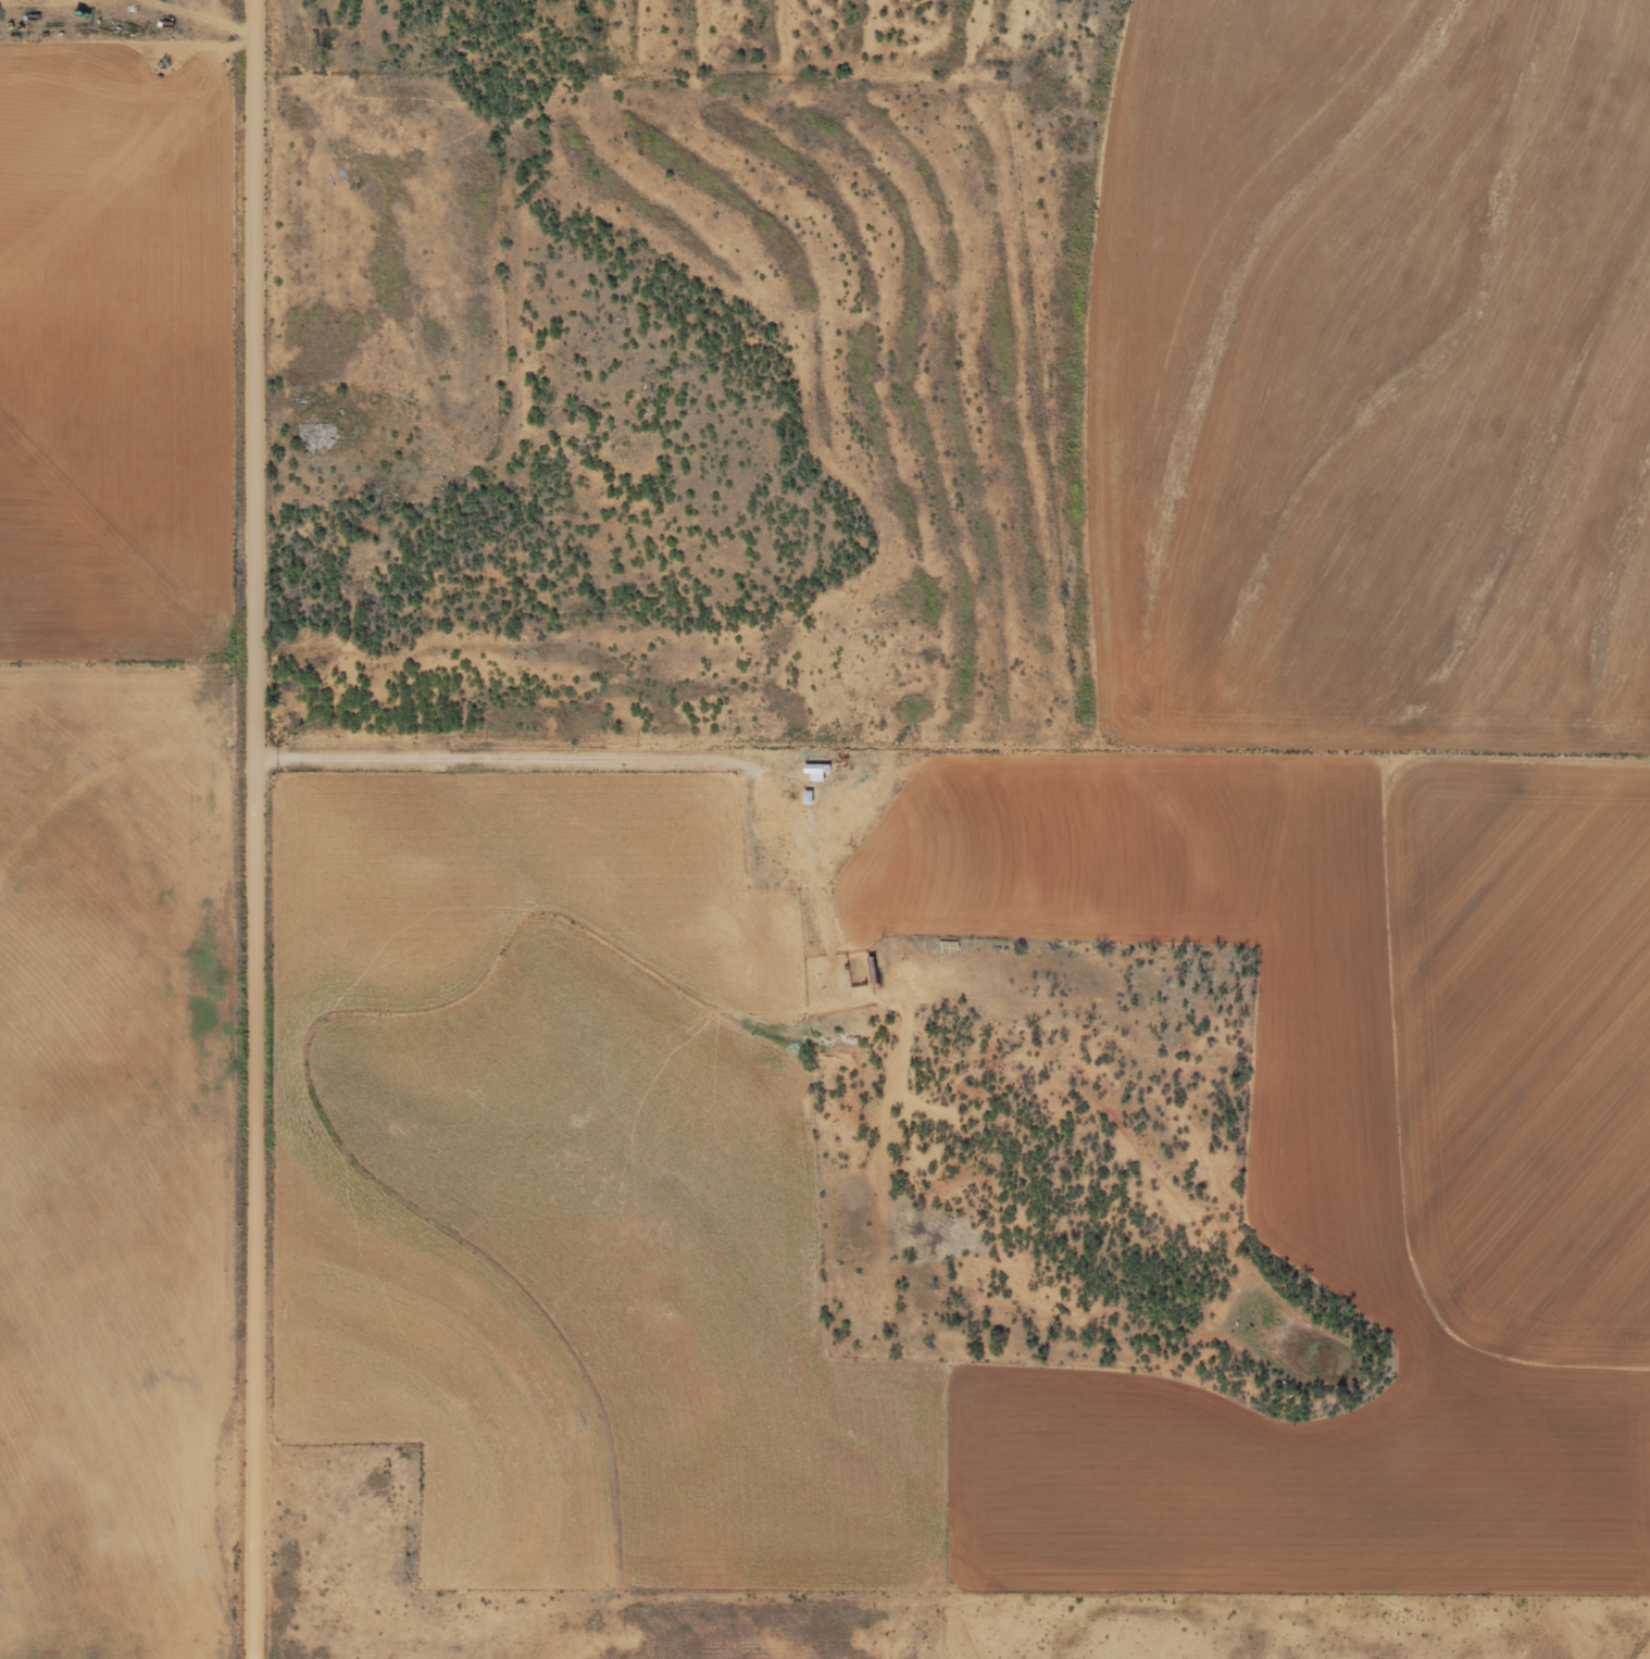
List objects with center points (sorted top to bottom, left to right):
road: (504, 768)
road: (257, 828)

